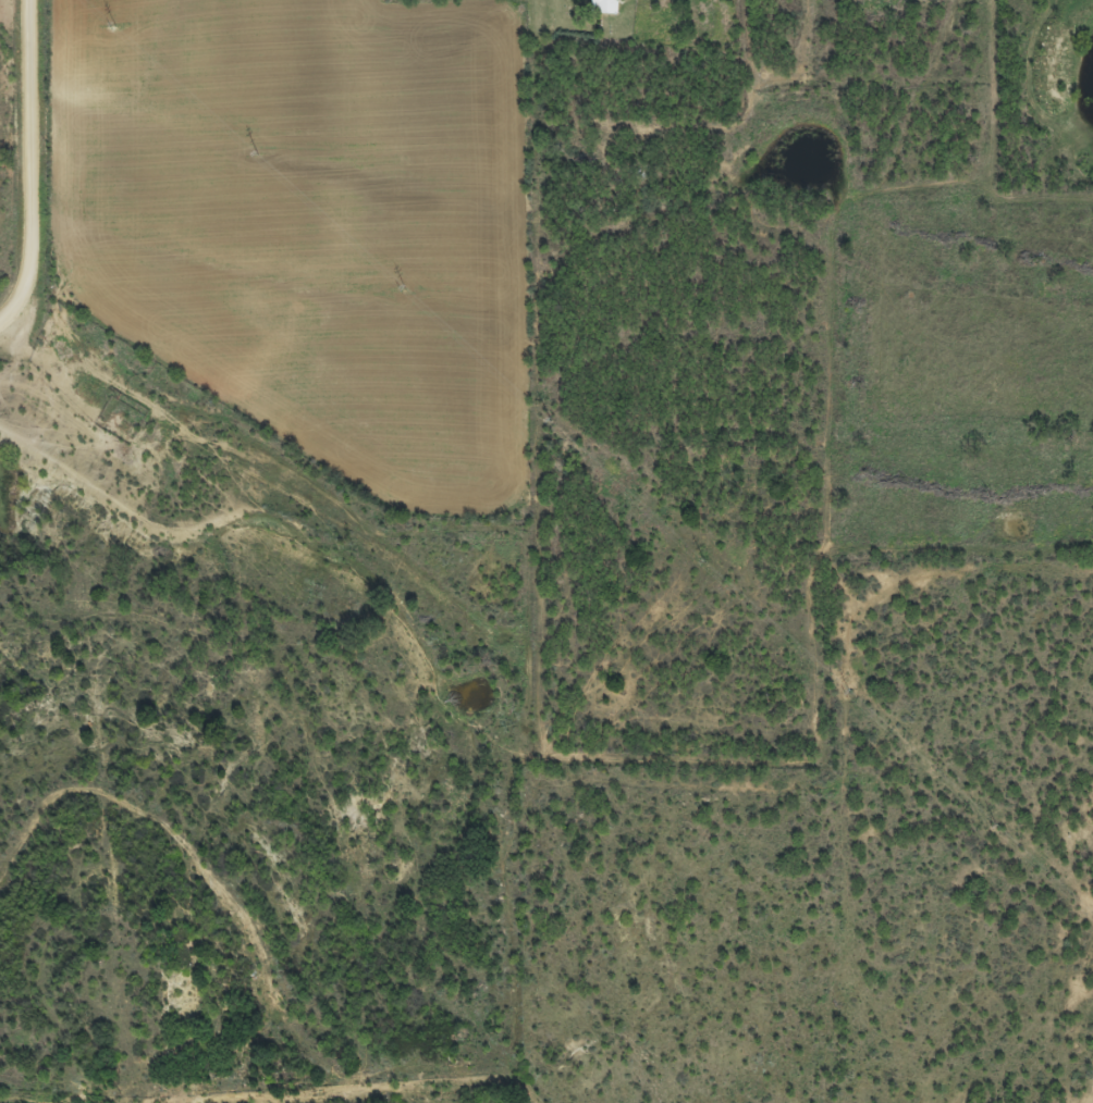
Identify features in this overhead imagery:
building: (601, 11)
road: (29, 165)

